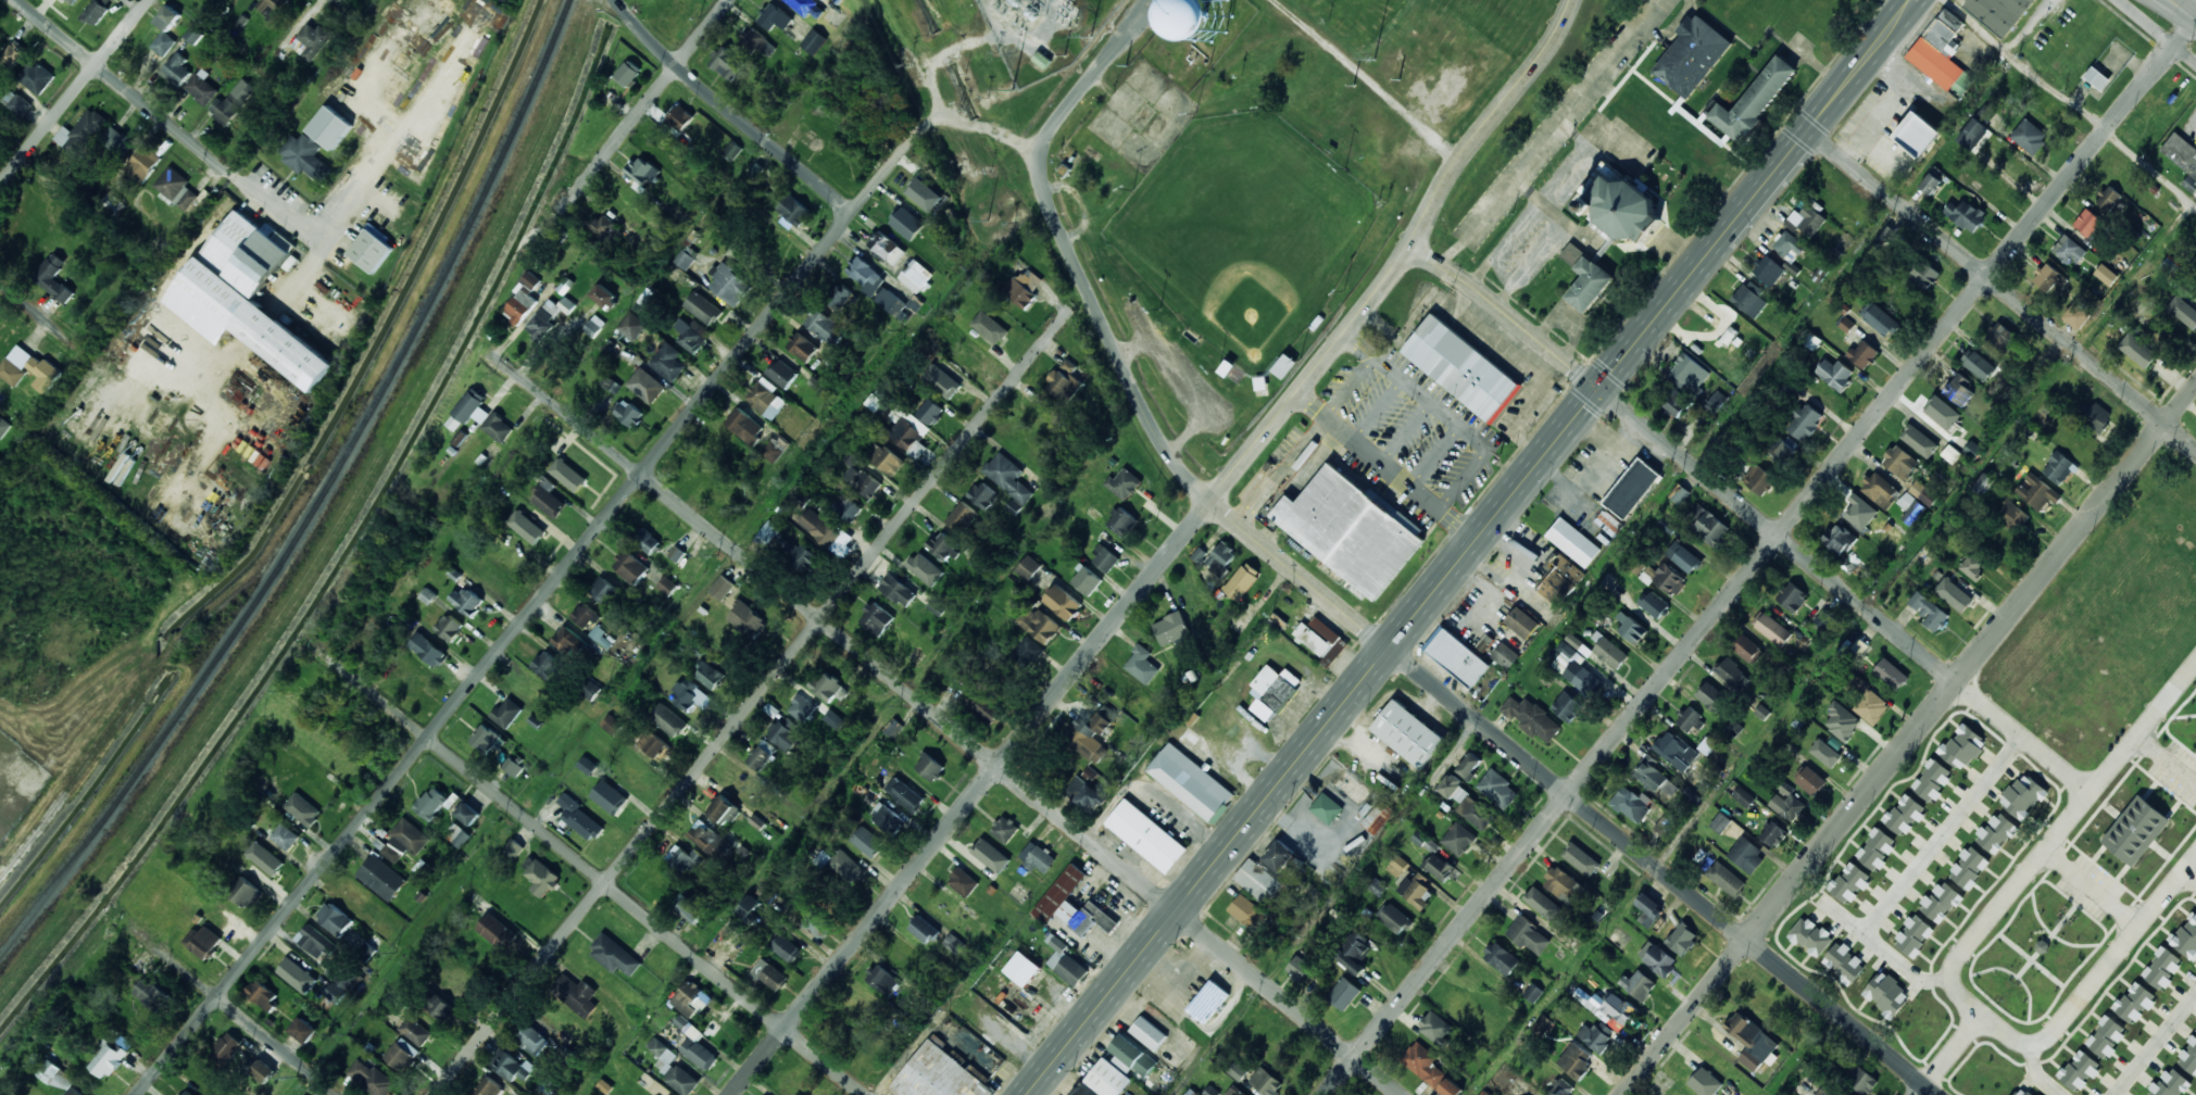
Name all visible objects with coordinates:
building: (73, 1)
road: (622, 2)
road: (341, 4)
building: (271, 7)
building: (808, 7)
road: (2187, 7)
building: (96, 13)
building: (1999, 13)
building: (168, 17)
building: (775, 17)
building: (1204, 18)
water tower: (1201, 24)
road: (2158, 30)
power substation: (1044, 33)
building: (193, 35)
building: (313, 40)
building: (814, 41)
building: (164, 43)
building: (757, 43)
building: (12, 53)
building: (1942, 54)
building: (1692, 55)
building: (728, 64)
building: (177, 71)
building: (628, 73)
building: (37, 77)
building: (2097, 78)
building: (202, 87)
road: (126, 88)
road: (74, 91)
building: (1755, 100)
building: (233, 102)
building: (16, 103)
road: (645, 104)
road: (732, 113)
building: (678, 119)
building: (330, 127)
building: (81, 134)
building: (1917, 134)
building: (1973, 135)
building: (2029, 136)
building: (117, 140)
road: (1442, 147)
building: (733, 150)
building: (304, 156)
building: (2182, 158)
building: (143, 164)
building: (641, 172)
building: (1930, 184)
building: (176, 188)
building: (920, 198)
building: (2108, 199)
building: (1620, 206)
road: (1438, 210)
building: (793, 212)
building: (1966, 215)
building: (1808, 218)
building: (2087, 223)
building: (907, 224)
building: (604, 227)
road: (2164, 235)
building: (1787, 246)
building: (887, 248)
building: (372, 250)
building: (2070, 250)
road: (1070, 251)
building: (1571, 253)
building: (685, 260)
building: (1769, 270)
building: (1923, 274)
building: (53, 277)
building: (867, 277)
building: (917, 277)
building: (2049, 278)
park: (1231, 281)
building: (730, 284)
building: (1589, 285)
building: (565, 286)
building: (1025, 287)
road: (2003, 289)
building: (247, 297)
building: (604, 297)
building: (841, 298)
building: (1750, 299)
building: (523, 300)
building: (891, 302)
building: (915, 303)
building: (703, 309)
building: (2184, 311)
building: (2078, 316)
building: (549, 317)
road: (43, 318)
building: (1880, 318)
building: (1847, 325)
building: (594, 326)
building: (632, 326)
building: (828, 326)
building: (990, 327)
building: (692, 335)
building: (2000, 338)
building: (802, 347)
building: (2137, 350)
building: (1864, 354)
building: (972, 356)
building: (668, 362)
building: (1978, 364)
building: (1285, 366)
building: (1463, 368)
building: (47, 369)
building: (1232, 372)
building: (782, 373)
building: (1689, 373)
building: (1835, 374)
building: (941, 381)
building: (1065, 381)
building: (647, 386)
building: (1958, 389)
building: (766, 398)
building: (1676, 402)
building: (1717, 402)
building: (469, 410)
building: (930, 412)
building: (1940, 412)
building: (628, 413)
building: (2097, 417)
building: (1805, 421)
building: (744, 426)
building: (3, 427)
building: (499, 427)
building: (908, 431)
building: (1919, 441)
building: (776, 448)
building: (1782, 448)
building: (1972, 450)
building: (1950, 454)
building: (886, 458)
building: (0, 462)
building: (1900, 462)
road: (1690, 464)
building: (2059, 468)
building: (568, 475)
building: (1008, 477)
building: (1759, 480)
building: (862, 481)
building: (1125, 483)
building: (1983, 484)
building: (1632, 488)
building: (1880, 490)
building: (2037, 492)
building: (1679, 493)
building: (1923, 493)
building: (983, 495)
railway: (321, 498)
building: (548, 498)
building: (846, 507)
building: (1911, 508)
building: (1859, 513)
building: (2011, 516)
building: (963, 517)
building: (1122, 521)
building: (1707, 525)
building: (527, 527)
building: (820, 528)
building: (1352, 530)
building: (767, 534)
building: (1839, 539)
building: (648, 541)
building: (1573, 542)
building: (944, 547)
road: (1471, 547)
building: (675, 552)
building: (1200, 555)
building: (1220, 557)
building: (1683, 557)
building: (1105, 558)
road: (1760, 558)
building: (804, 559)
road: (569, 561)
building: (1850, 562)
building: (1972, 566)
building: (630, 567)
building: (1029, 568)
building: (925, 569)
road: (1153, 577)
building: (1561, 579)
building: (1086, 580)
building: (1670, 580)
building: (1243, 581)
building: (667, 586)
building: (721, 588)
building: (605, 590)
building: (898, 590)
building: (1954, 594)
building: (427, 596)
building: (1792, 596)
building: (465, 601)
building: (1063, 603)
building: (1653, 604)
building: (1929, 612)
building: (586, 615)
building: (1825, 616)
building: (748, 619)
building: (876, 619)
building: (1278, 621)
building: (1522, 622)
building: (1041, 626)
building: (450, 627)
building: (1171, 628)
building: (1631, 628)
building: (1772, 628)
building: (601, 637)
building: (566, 640)
building: (1322, 640)
building: (1747, 649)
building: (429, 650)
building: (1567, 650)
building: (1027, 652)
building: (1610, 653)
building: (1505, 656)
building: (1456, 657)
building: (547, 665)
building: (1142, 665)
building: (1730, 671)
building: (1891, 674)
building: (710, 675)
building: (1583, 679)
building: (828, 687)
building: (591, 690)
building: (1272, 691)
road: (760, 692)
building: (690, 695)
building: (1711, 696)
building: (1870, 704)
building: (1567, 706)
building: (802, 708)
building: (988, 710)
building: (506, 713)
building: (833, 719)
building: (1104, 719)
building: (1533, 719)
building: (668, 720)
building: (1690, 720)
building: (1842, 721)
road: (944, 722)
building: (613, 725)
building: (893, 728)
building: (1408, 733)
building: (783, 737)
building: (488, 740)
building: (1086, 740)
road: (1910, 741)
building: (652, 744)
building: (1962, 746)
building: (1676, 751)
building: (1825, 753)
building: (762, 755)
building: (1469, 765)
building: (588, 766)
building: (513, 767)
building: (930, 767)
building: (1655, 777)
building: (1809, 780)
building: (1932, 780)
building: (1192, 782)
building: (1451, 785)
building: (1352, 788)
building: (1497, 789)
building: (904, 794)
building: (1084, 795)
building: (1744, 796)
building: (2023, 796)
building: (610, 797)
road: (1573, 800)
building: (432, 803)
building: (1631, 804)
building: (1787, 806)
building: (1327, 808)
building: (303, 809)
building: (725, 809)
building: (1476, 813)
building: (467, 814)
building: (1905, 815)
building: (1379, 817)
building: (887, 818)
building: (580, 819)
building: (1721, 822)
building: (1005, 829)
building: (2136, 830)
building: (1772, 833)
building: (1997, 833)
building: (457, 835)
building: (1146, 835)
building: (286, 836)
building: (1458, 839)
building: (710, 840)
building: (867, 841)
building: (403, 842)
building: (1426, 842)
building: (513, 849)
building: (1877, 849)
building: (1746, 854)
building: (991, 855)
building: (1038, 857)
building: (266, 858)
building: (1581, 858)
building: (687, 859)
building: (846, 866)
building: (1397, 866)
building: (1439, 867)
building: (1969, 868)
road: (588, 870)
building: (1266, 871)
building: (381, 877)
building: (541, 877)
building: (1727, 879)
building: (963, 882)
building: (1849, 883)
building: (1563, 884)
building: (1376, 885)
building: (1416, 890)
building: (246, 893)
building: (767, 893)
building: (1941, 902)
building: (1543, 903)
building: (1072, 905)
building: (1648, 907)
building: (691, 909)
building: (751, 910)
building: (1247, 911)
building: (1394, 918)
building: (335, 919)
building: (817, 924)
building: (924, 930)
building: (499, 932)
building: (1529, 935)
building: (1913, 935)
building: (1811, 936)
building: (2186, 937)
building: (1682, 939)
building: (315, 941)
building: (203, 942)
building: (2042, 946)
building: (786, 948)
building: (1354, 952)
building: (614, 955)
building: (1502, 958)
building: (1657, 958)
building: (1066, 962)
building: (1844, 962)
building: (1298, 968)
building: (2162, 968)
building: (1022, 969)
building: (770, 974)
building: (298, 976)
building: (341, 976)
building: (882, 980)
building: (1639, 984)
building: (1344, 993)
building: (1533, 993)
building: (152, 994)
building: (336, 994)
building: (576, 994)
building: (1886, 994)
building: (263, 995)
building: (691, 999)
building: (1208, 1002)
building: (2134, 1003)
building: (438, 1005)
road: (231, 1007)
building: (1614, 1008)
building: (1436, 1029)
building: (304, 1030)
building: (415, 1031)
building: (1149, 1033)
building: (2106, 1036)
building: (529, 1037)
building: (1593, 1037)
building: (1752, 1041)
building: (695, 1044)
building: (226, 1050)
building: (402, 1055)
building: (1132, 1056)
building: (2188, 1057)
building: (105, 1059)
building: (1576, 1060)
building: (1423, 1063)
building: (511, 1066)
building: (673, 1068)
building: (2080, 1070)
building: (263, 1071)
building: (1238, 1071)
building: (940, 1073)
building: (57, 1077)
building: (373, 1079)
building: (1108, 1079)
building: (1861, 1080)
building: (1266, 1082)
building: (1705, 1082)
building: (2170, 1083)
building: (489, 1087)
building: (1560, 1087)
building: (1451, 1088)
building: (1086, 1091)
building: (1210, 1091)
building: (1235, 1091)
building: (1825, 1091)
road: (1921, 1091)
building: (72, 1092)
building: (1192, 1092)
building: (2023, 1092)
building: (188, 1093)
building: (1484, 1093)
building: (1527, 1094)

